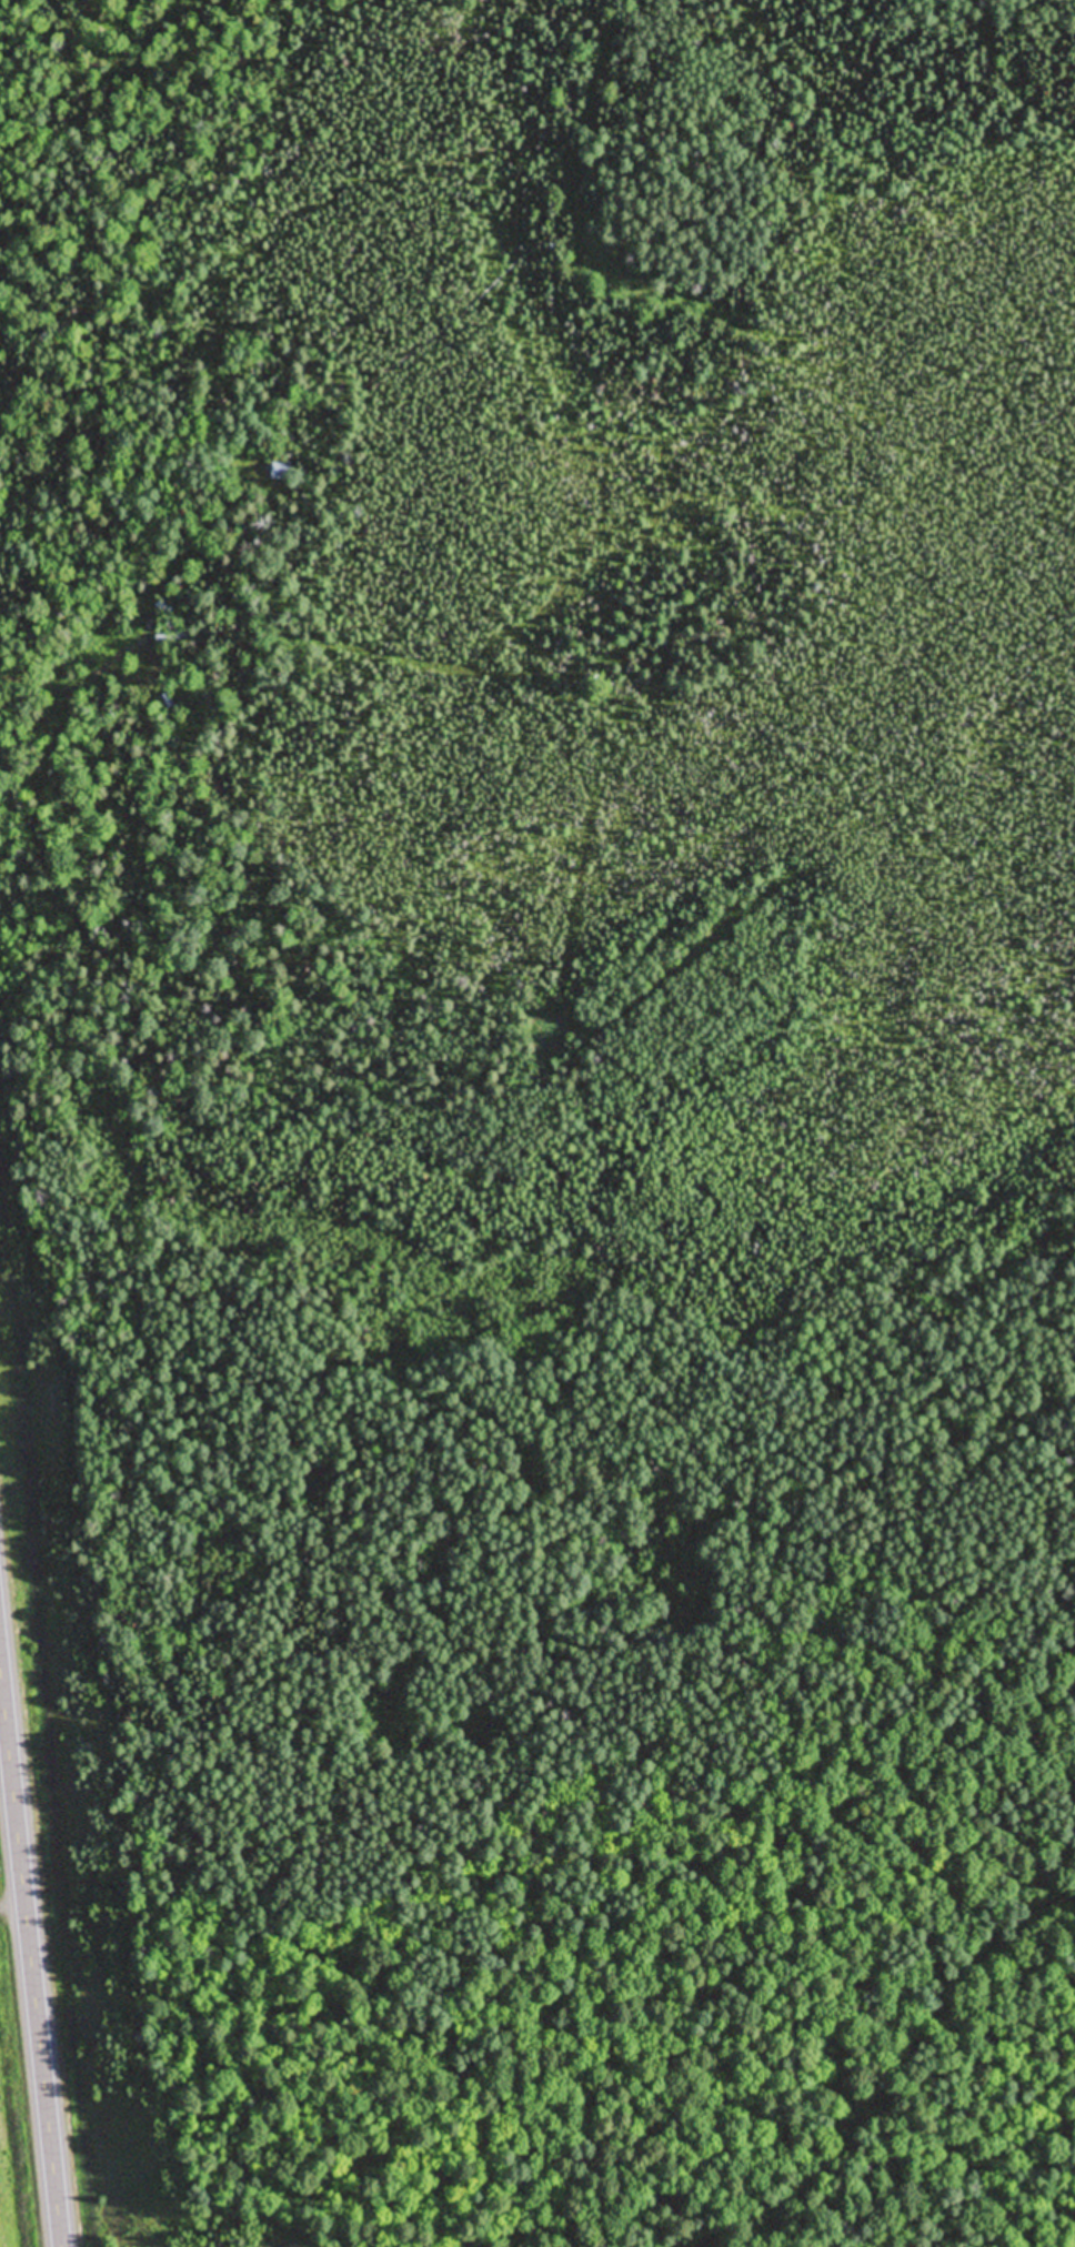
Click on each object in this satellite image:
road: (30, 1956)

